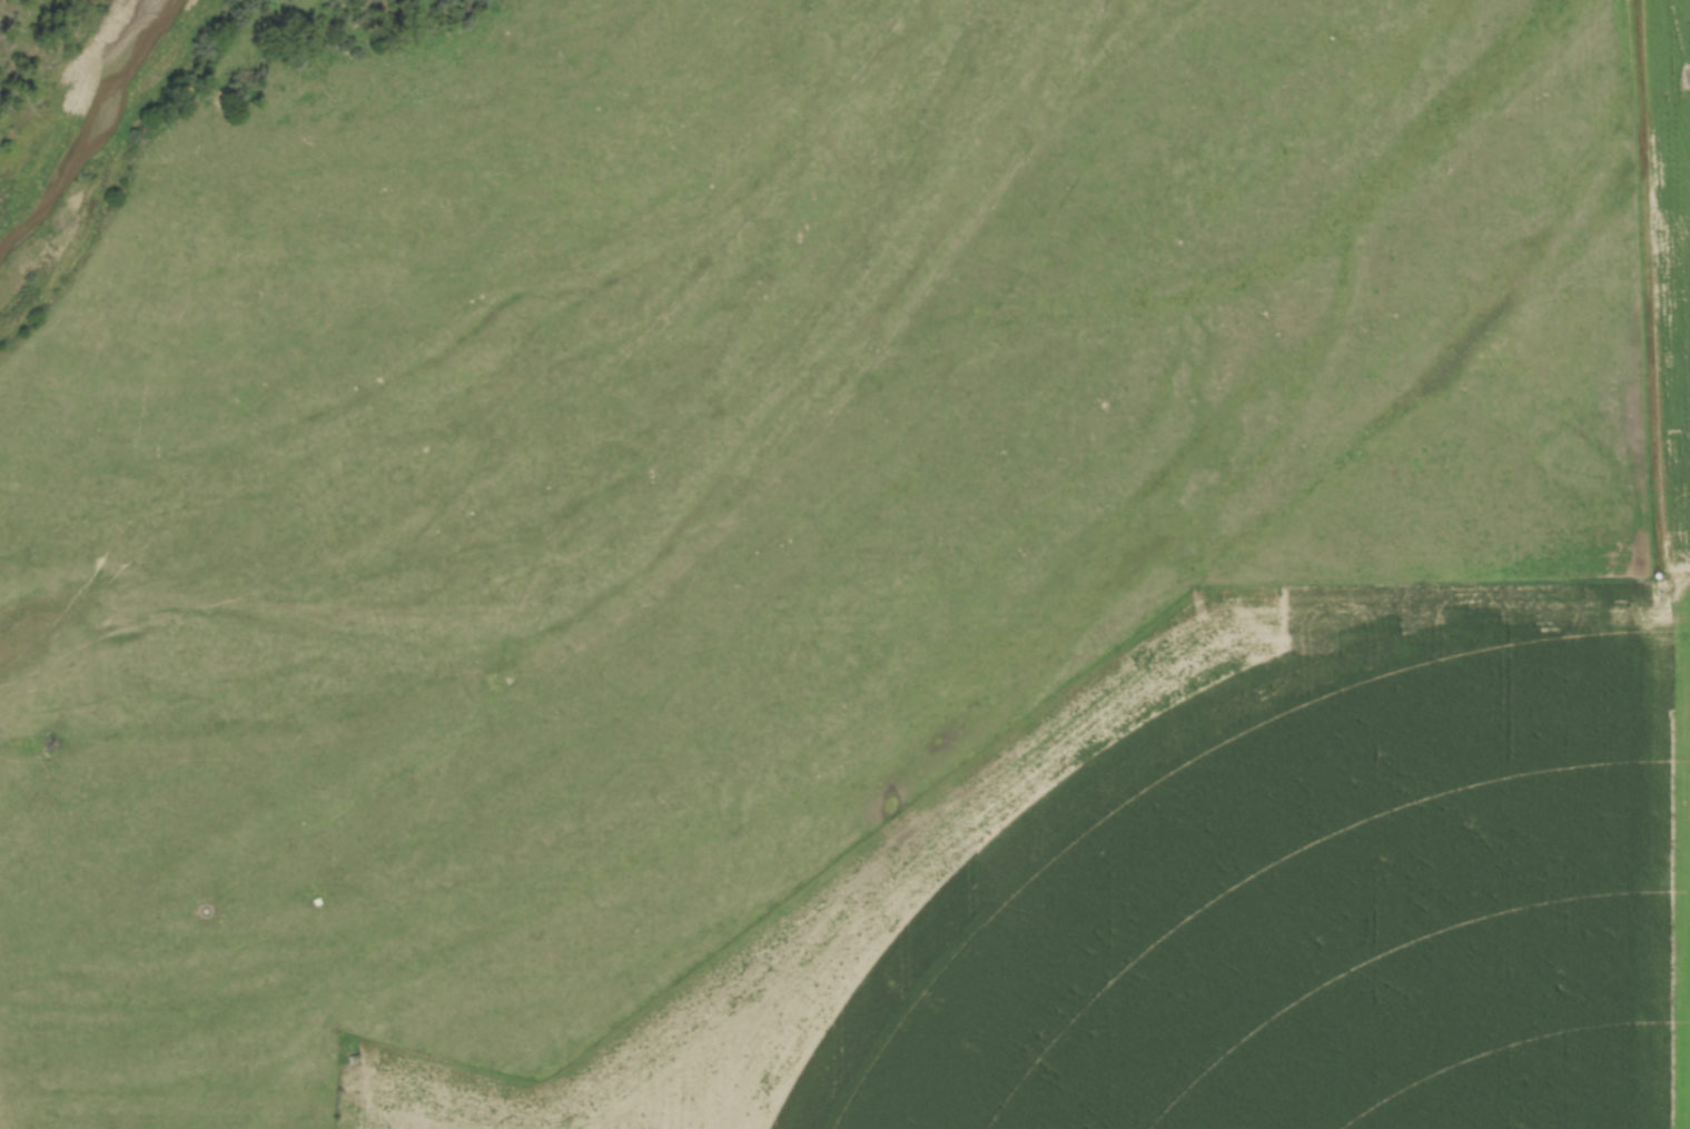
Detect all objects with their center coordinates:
river: (121, 65)
river: (45, 195)

